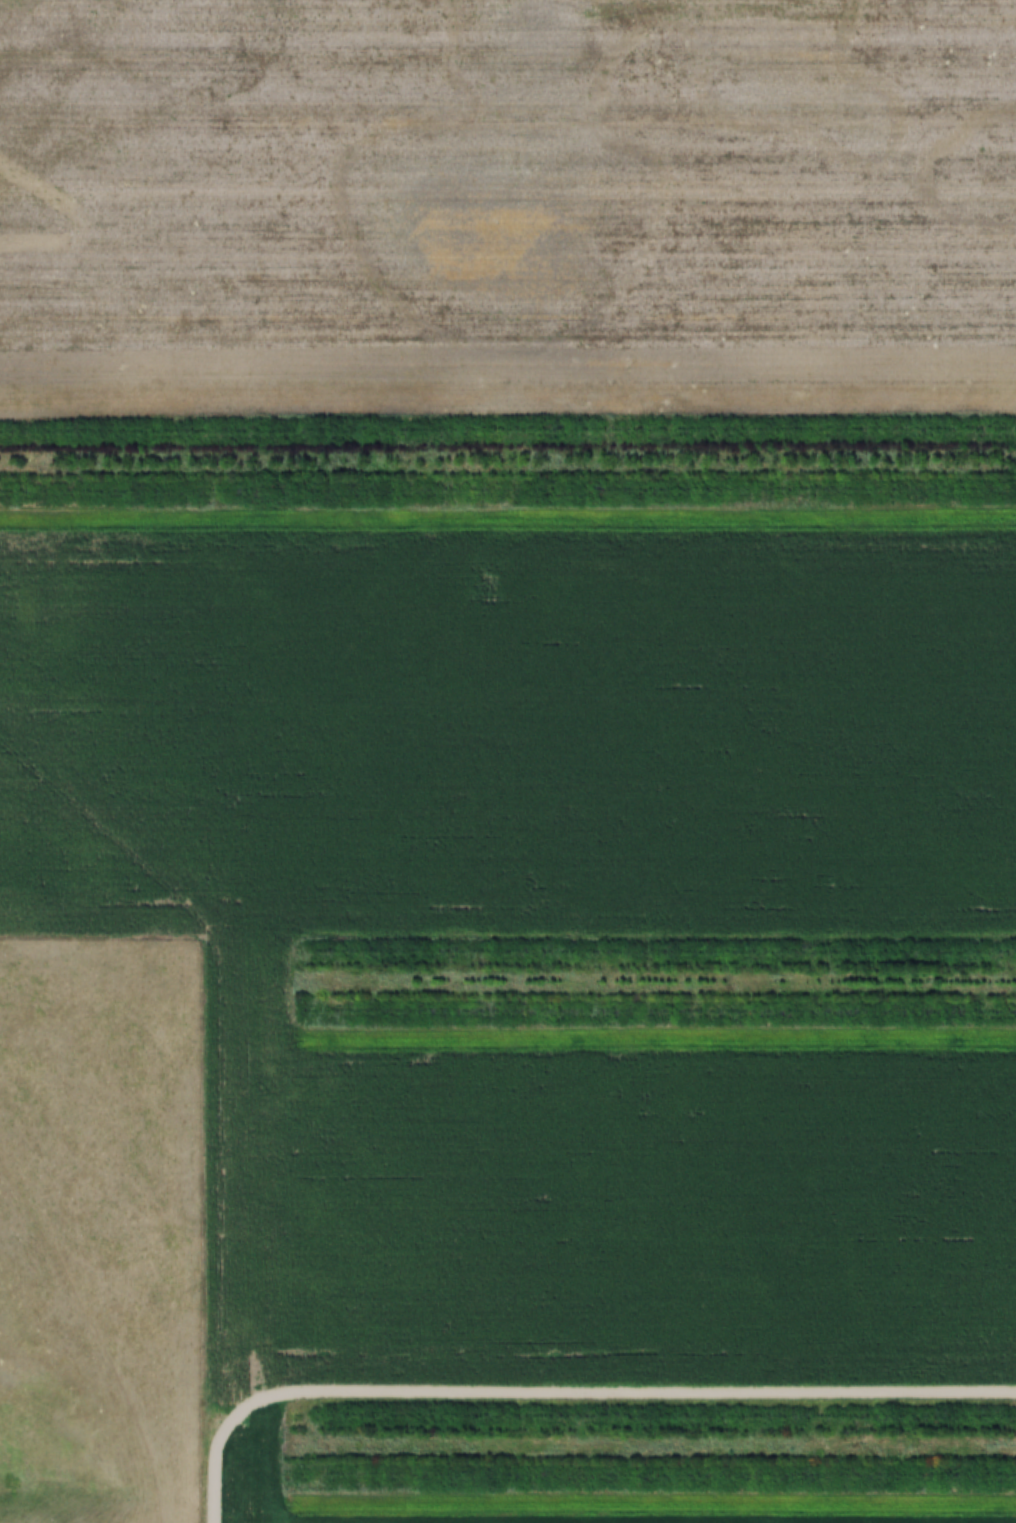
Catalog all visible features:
road: (561, 1398)

